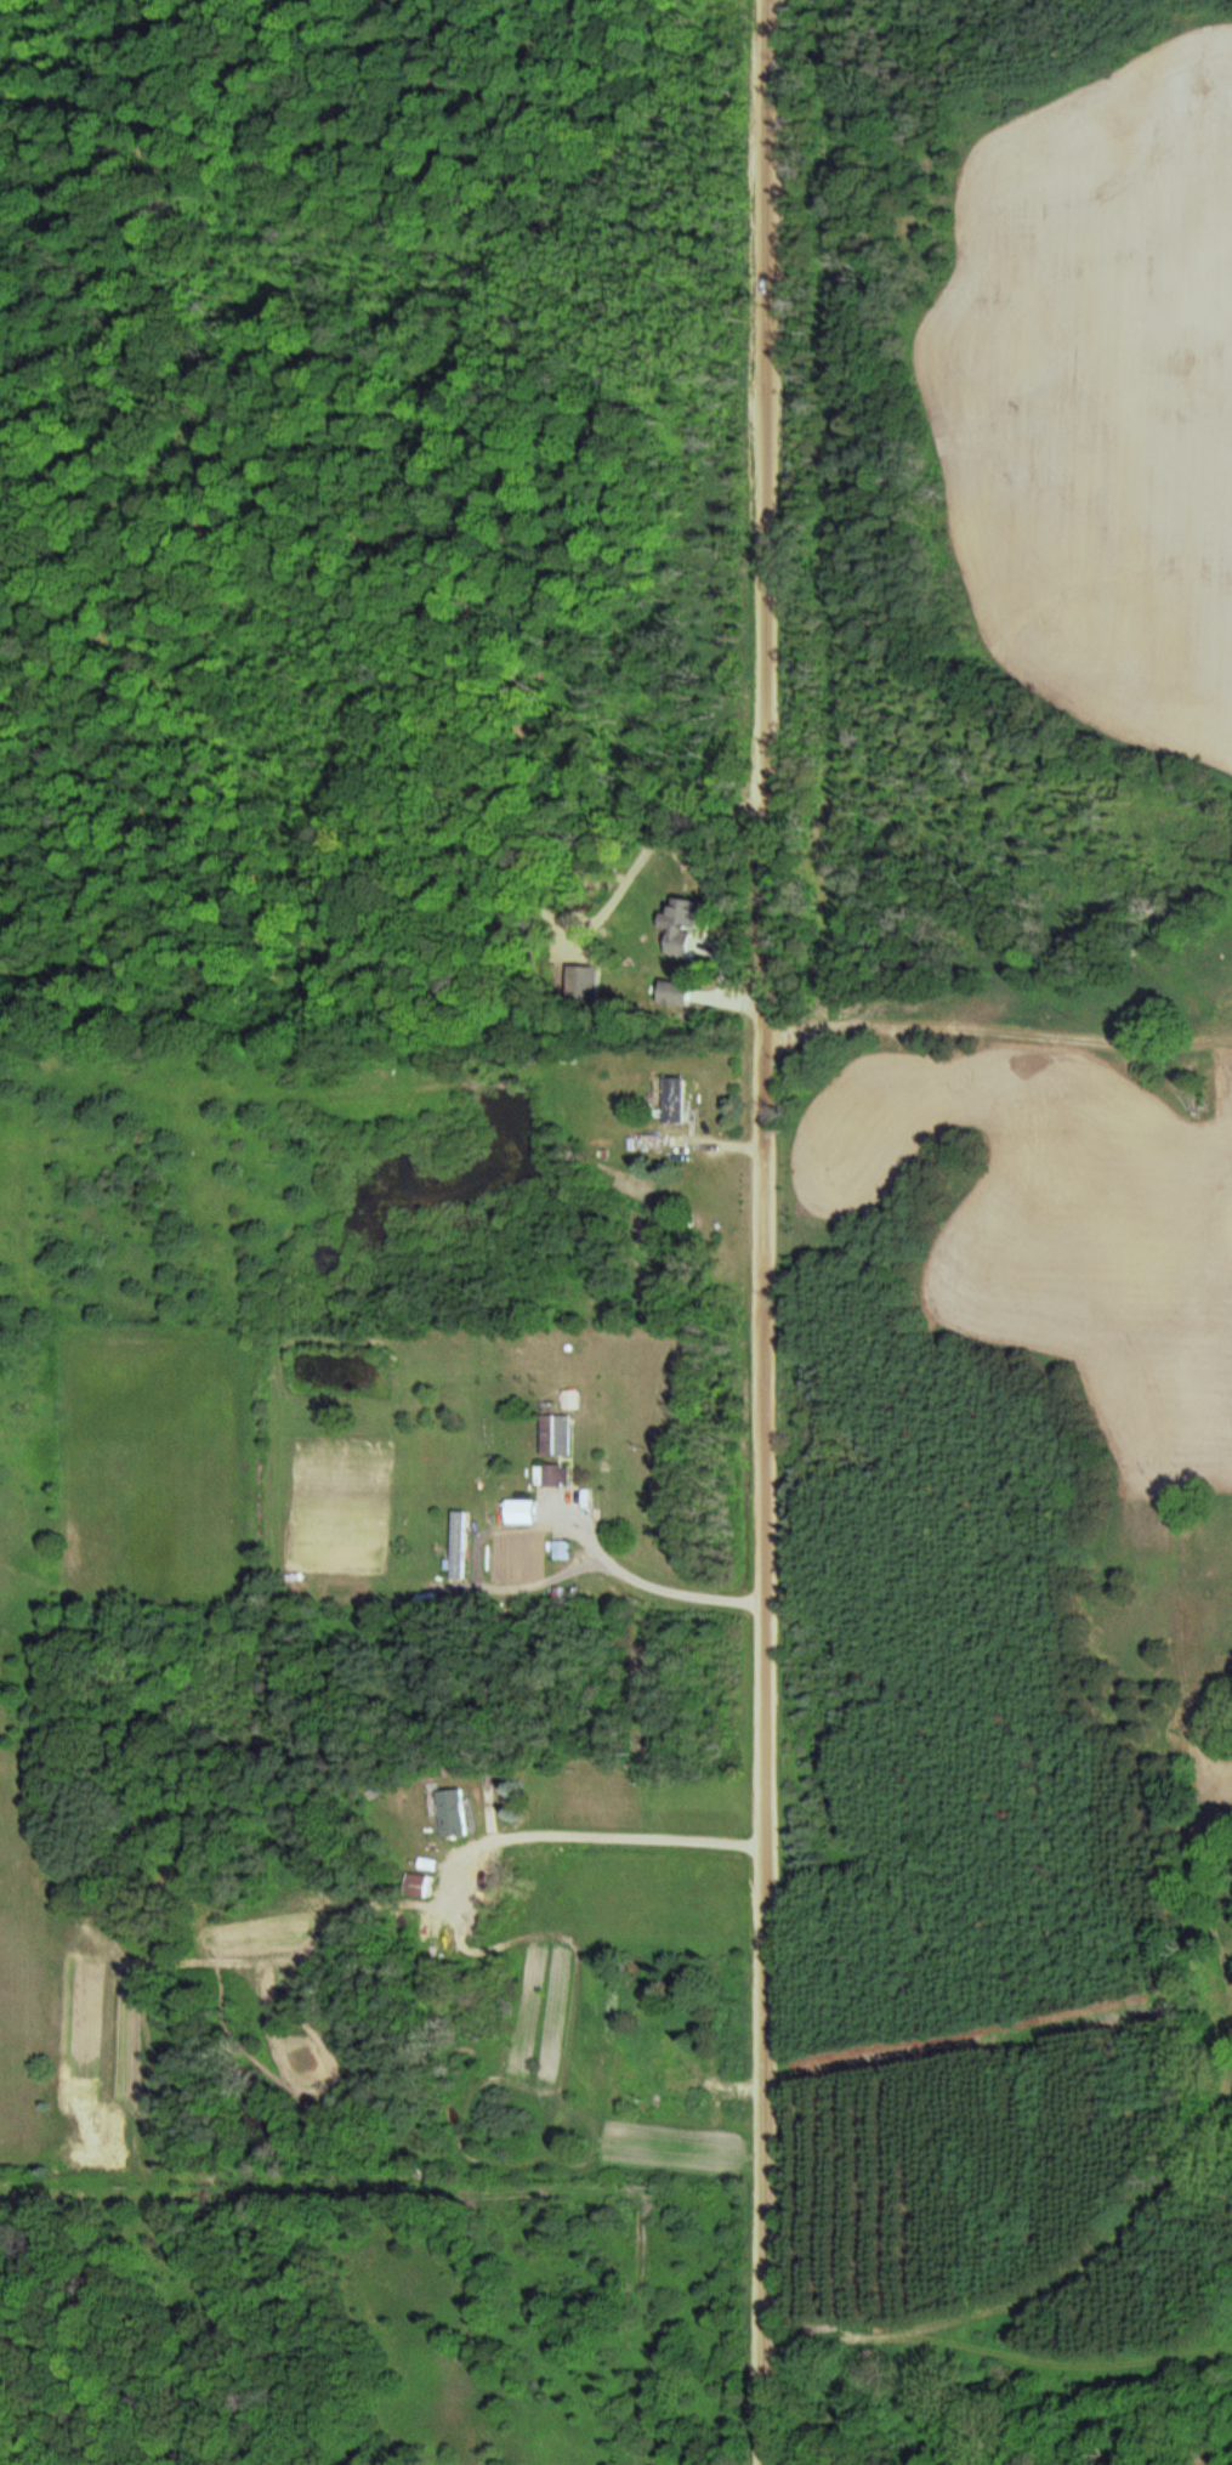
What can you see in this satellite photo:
building: (682, 929)
road: (1000, 1061)
building: (676, 1100)
road: (768, 1232)
building: (557, 1433)
building: (553, 1473)
building: (524, 1508)
building: (460, 1543)
building: (564, 1548)
building: (488, 1787)
building: (452, 1812)
building: (669, 2055)
road: (980, 2143)
road: (24, 2452)

